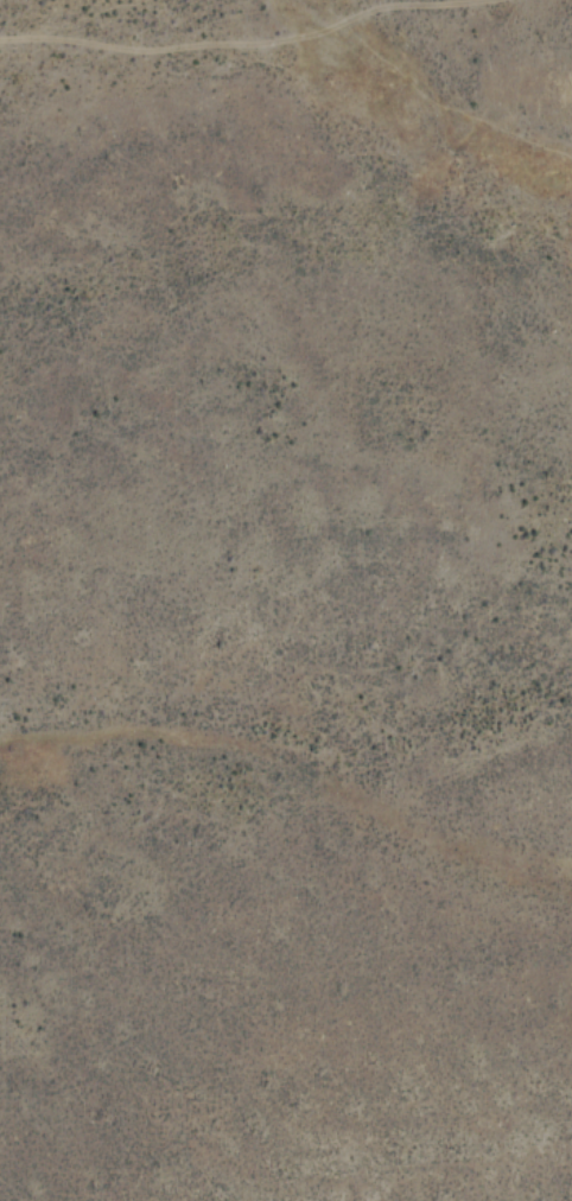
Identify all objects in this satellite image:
road: (256, 44)

